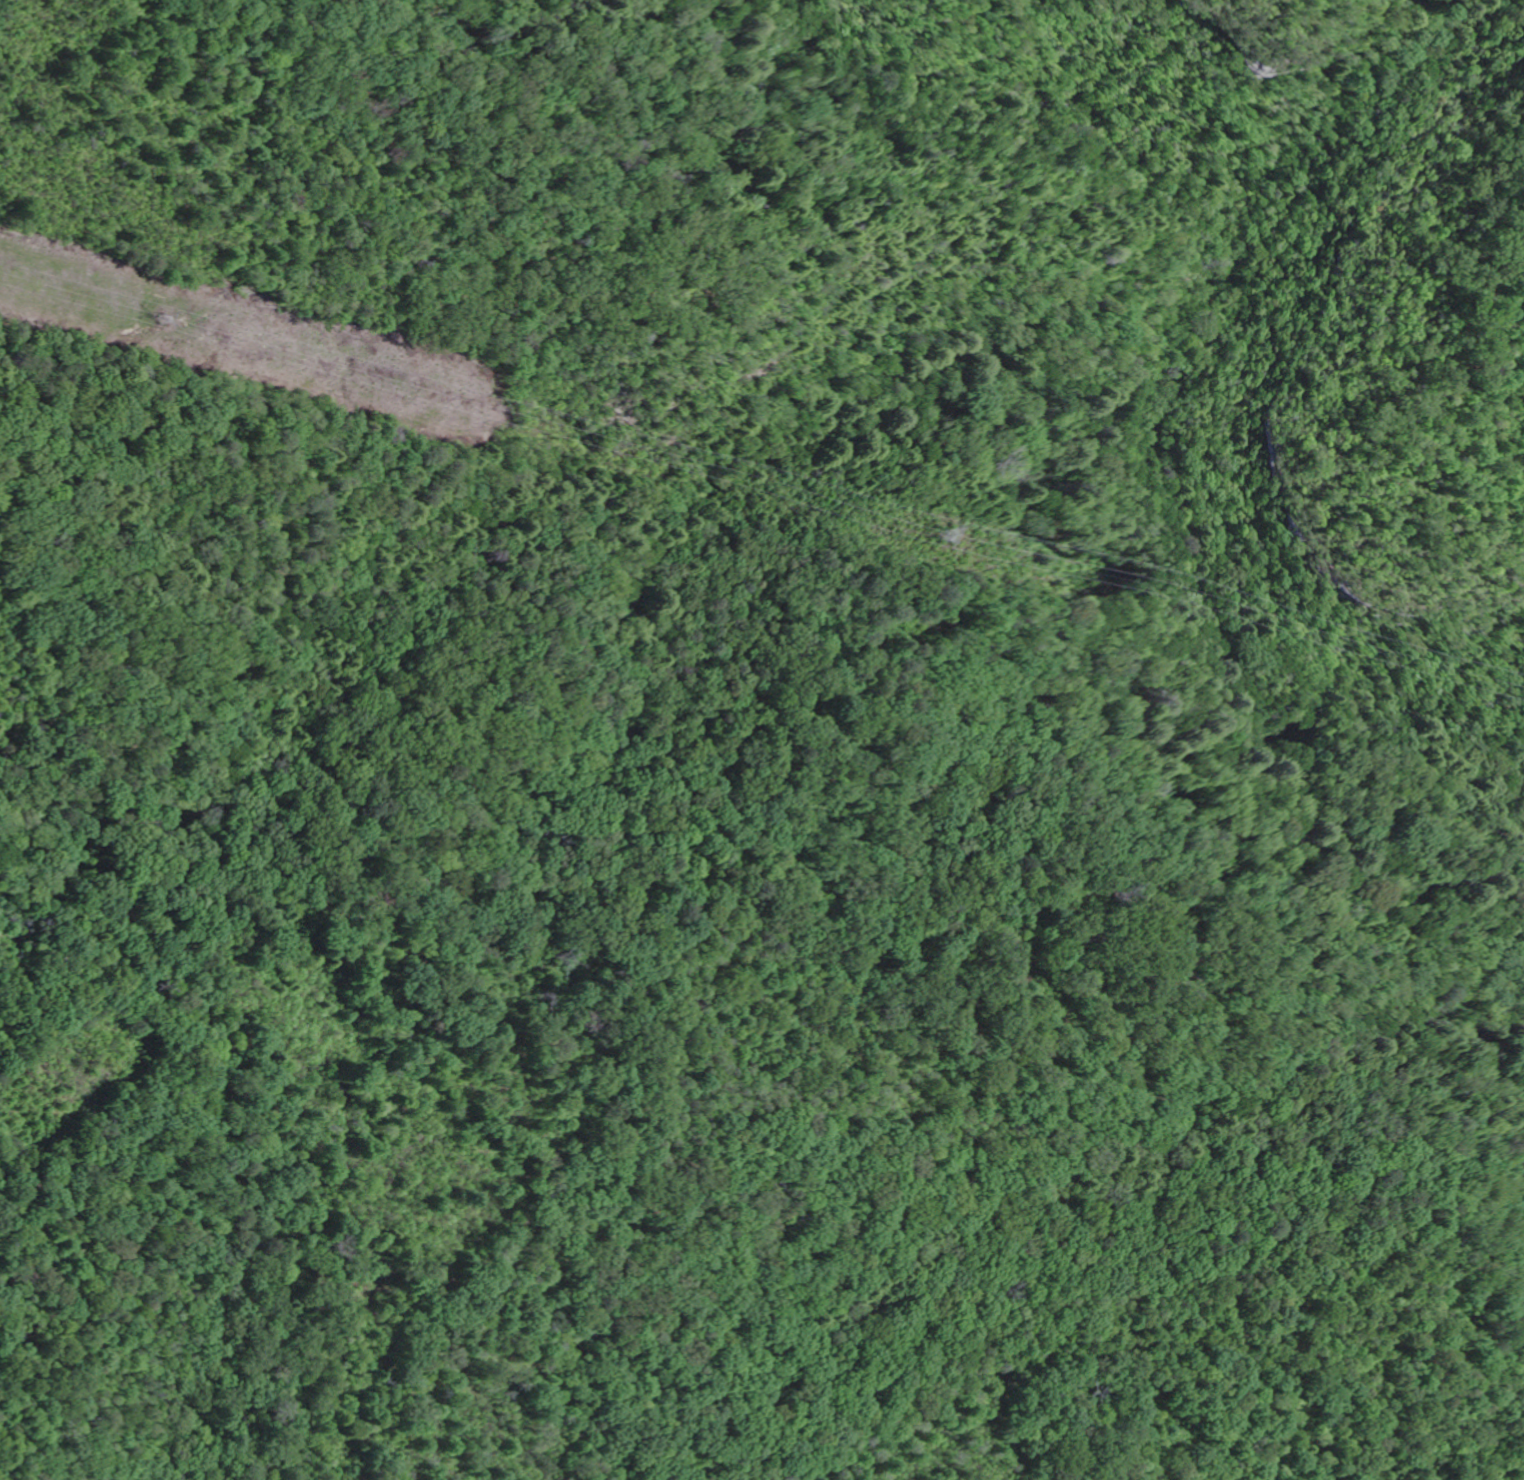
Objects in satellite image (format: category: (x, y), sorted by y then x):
road: (305, 1159)

